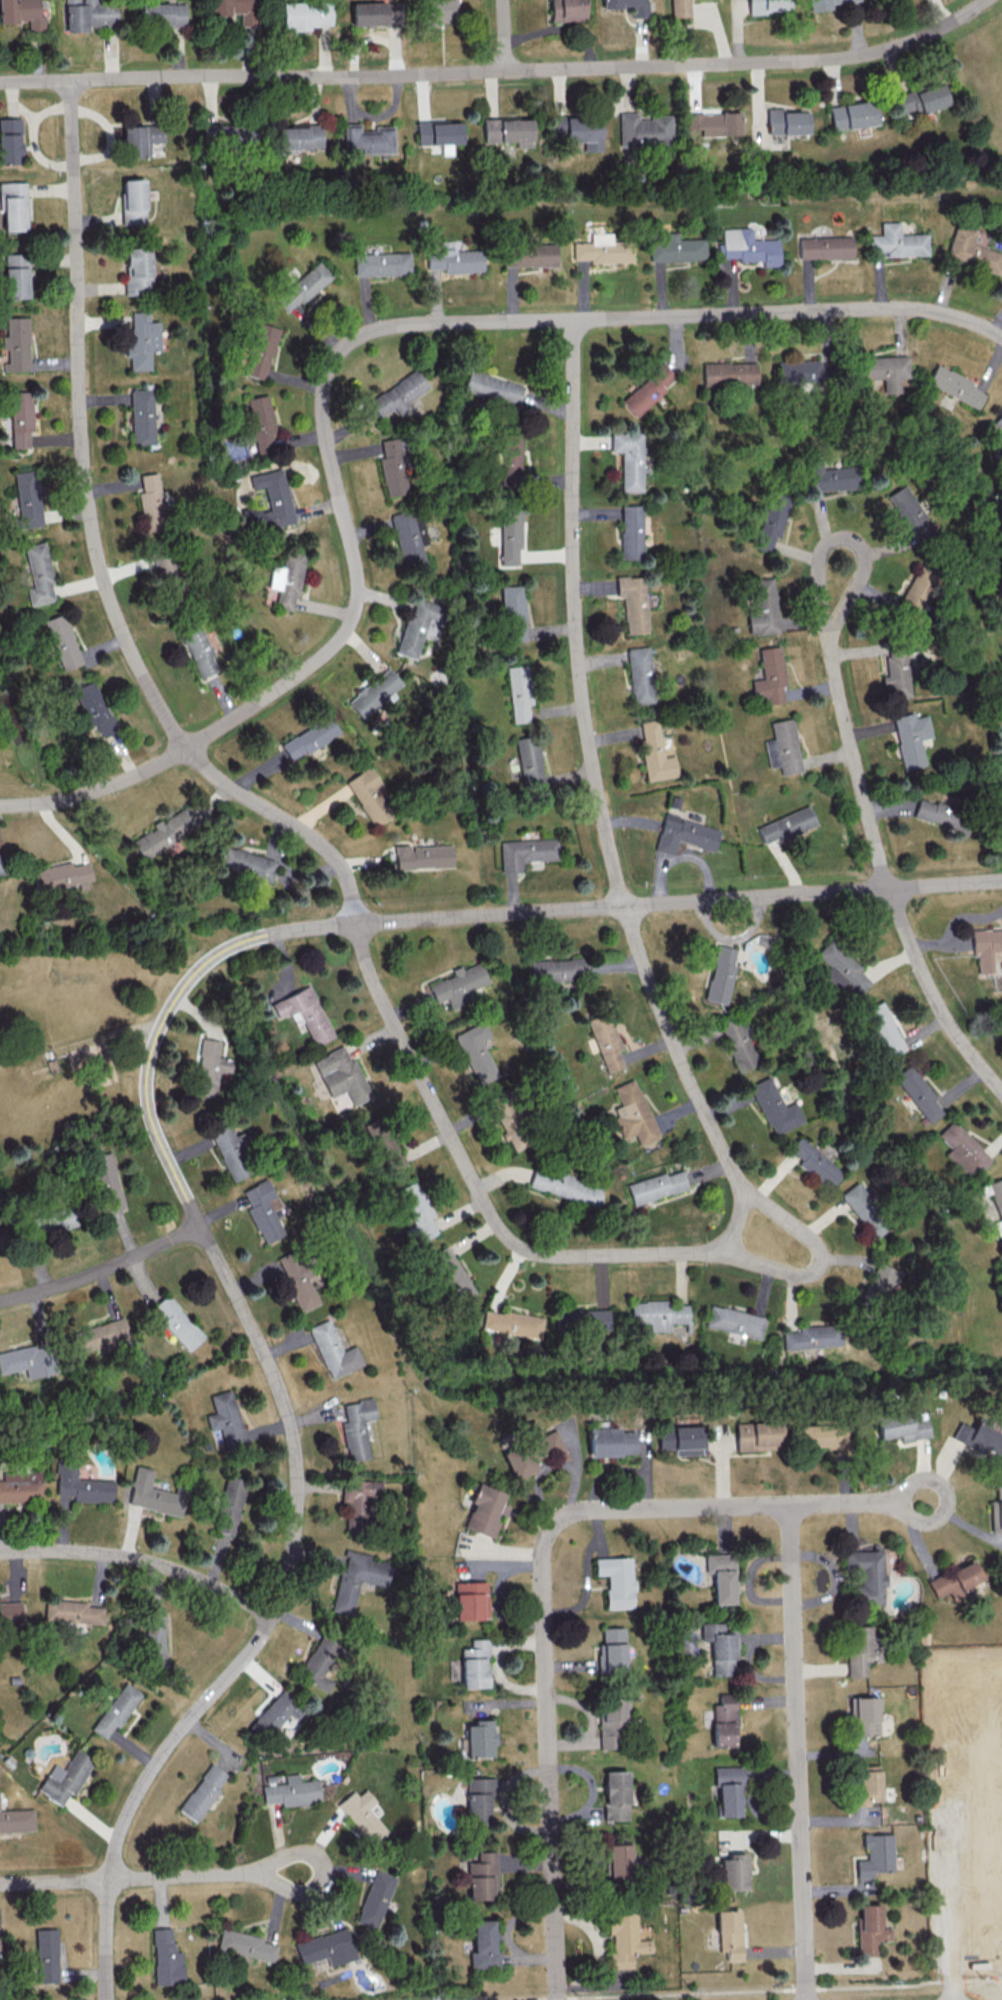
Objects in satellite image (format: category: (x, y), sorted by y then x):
building: (823, 4)
building: (768, 6)
building: (679, 8)
building: (235, 9)
building: (565, 10)
building: (439, 11)
building: (21, 13)
building: (373, 13)
building: (88, 14)
building: (162, 14)
building: (305, 14)
road: (503, 35)
road: (501, 70)
building: (921, 99)
building: (853, 115)
building: (787, 122)
building: (715, 123)
building: (644, 129)
building: (579, 130)
building: (508, 131)
building: (227, 134)
building: (438, 134)
building: (297, 137)
building: (9, 139)
building: (140, 139)
building: (368, 139)
building: (133, 201)
building: (13, 206)
building: (897, 242)
building: (749, 247)
building: (825, 247)
building: (677, 248)
building: (602, 249)
building: (972, 251)
building: (529, 255)
building: (455, 260)
building: (381, 264)
building: (136, 269)
building: (15, 275)
building: (302, 287)
building: (141, 340)
building: (15, 344)
building: (260, 350)
road: (337, 357)
building: (800, 370)
building: (886, 370)
building: (729, 373)
building: (955, 385)
building: (492, 387)
building: (648, 389)
building: (398, 394)
building: (141, 416)
building: (20, 418)
building: (261, 422)
building: (998, 422)
road: (79, 425)
building: (510, 457)
building: (629, 457)
building: (394, 467)
building: (832, 478)
building: (27, 499)
building: (270, 499)
building: (150, 503)
building: (910, 510)
building: (772, 520)
building: (631, 531)
building: (409, 534)
building: (510, 536)
building: (164, 563)
building: (38, 574)
building: (285, 582)
building: (918, 589)
building: (633, 603)
building: (763, 606)
building: (513, 613)
building: (417, 625)
building: (62, 641)
building: (198, 650)
building: (896, 673)
building: (640, 675)
building: (769, 677)
building: (374, 692)
building: (519, 693)
building: (95, 709)
road: (843, 711)
building: (308, 738)
building: (911, 738)
building: (783, 747)
building: (654, 753)
building: (529, 761)
road: (596, 784)
building: (370, 795)
building: (939, 814)
road: (289, 822)
building: (786, 825)
building: (166, 831)
building: (684, 834)
building: (526, 852)
building: (423, 856)
building: (246, 862)
building: (1, 864)
building: (61, 875)
road: (678, 900)
building: (987, 953)
building: (841, 967)
building: (558, 969)
building: (722, 974)
building: (458, 984)
road: (933, 995)
building: (304, 1013)
building: (884, 1029)
building: (606, 1042)
building: (739, 1044)
building: (476, 1052)
building: (85, 1054)
building: (209, 1065)
building: (340, 1075)
building: (919, 1093)
building: (775, 1107)
building: (633, 1113)
building: (509, 1120)
building: (384, 1144)
building: (231, 1150)
building: (963, 1150)
building: (815, 1163)
building: (106, 1181)
building: (655, 1186)
road: (480, 1191)
building: (997, 1202)
building: (861, 1203)
building: (263, 1210)
building: (416, 1213)
building: (0, 1242)
road: (814, 1265)
road: (101, 1269)
building: (451, 1274)
building: (297, 1280)
building: (880, 1281)
building: (659, 1314)
building: (581, 1319)
building: (734, 1321)
building: (176, 1322)
building: (511, 1323)
building: (99, 1334)
building: (813, 1336)
building: (333, 1350)
building: (25, 1360)
road: (286, 1406)
building: (225, 1419)
building: (356, 1427)
building: (757, 1435)
building: (821, 1436)
building: (976, 1438)
building: (681, 1439)
building: (611, 1441)
building: (533, 1450)
building: (81, 1484)
building: (21, 1486)
building: (154, 1494)
building: (357, 1504)
building: (230, 1505)
road: (730, 1505)
building: (485, 1510)
building: (995, 1510)
road: (142, 1560)
building: (867, 1575)
building: (722, 1577)
building: (358, 1578)
building: (616, 1580)
building: (955, 1581)
building: (471, 1600)
building: (73, 1612)
building: (10, 1613)
building: (154, 1643)
building: (720, 1647)
building: (858, 1649)
building: (611, 1650)
building: (319, 1663)
building: (475, 1664)
building: (116, 1710)
building: (274, 1716)
building: (866, 1716)
building: (724, 1720)
building: (612, 1723)
building: (480, 1738)
road: (797, 1752)
road: (550, 1768)
building: (66, 1777)
building: (728, 1790)
building: (293, 1791)
building: (204, 1792)
building: (615, 1795)
building: (479, 1799)
building: (363, 1815)
building: (17, 1820)
building: (875, 1855)
building: (618, 1861)
road: (324, 1871)
building: (733, 1872)
building: (482, 1877)
road: (127, 1878)
building: (376, 1899)
building: (870, 1929)
building: (729, 1934)
building: (624, 1939)
building: (246, 1944)
building: (484, 1946)
building: (327, 1948)
building: (46, 1955)
building: (166, 1958)
road: (738, 1990)

